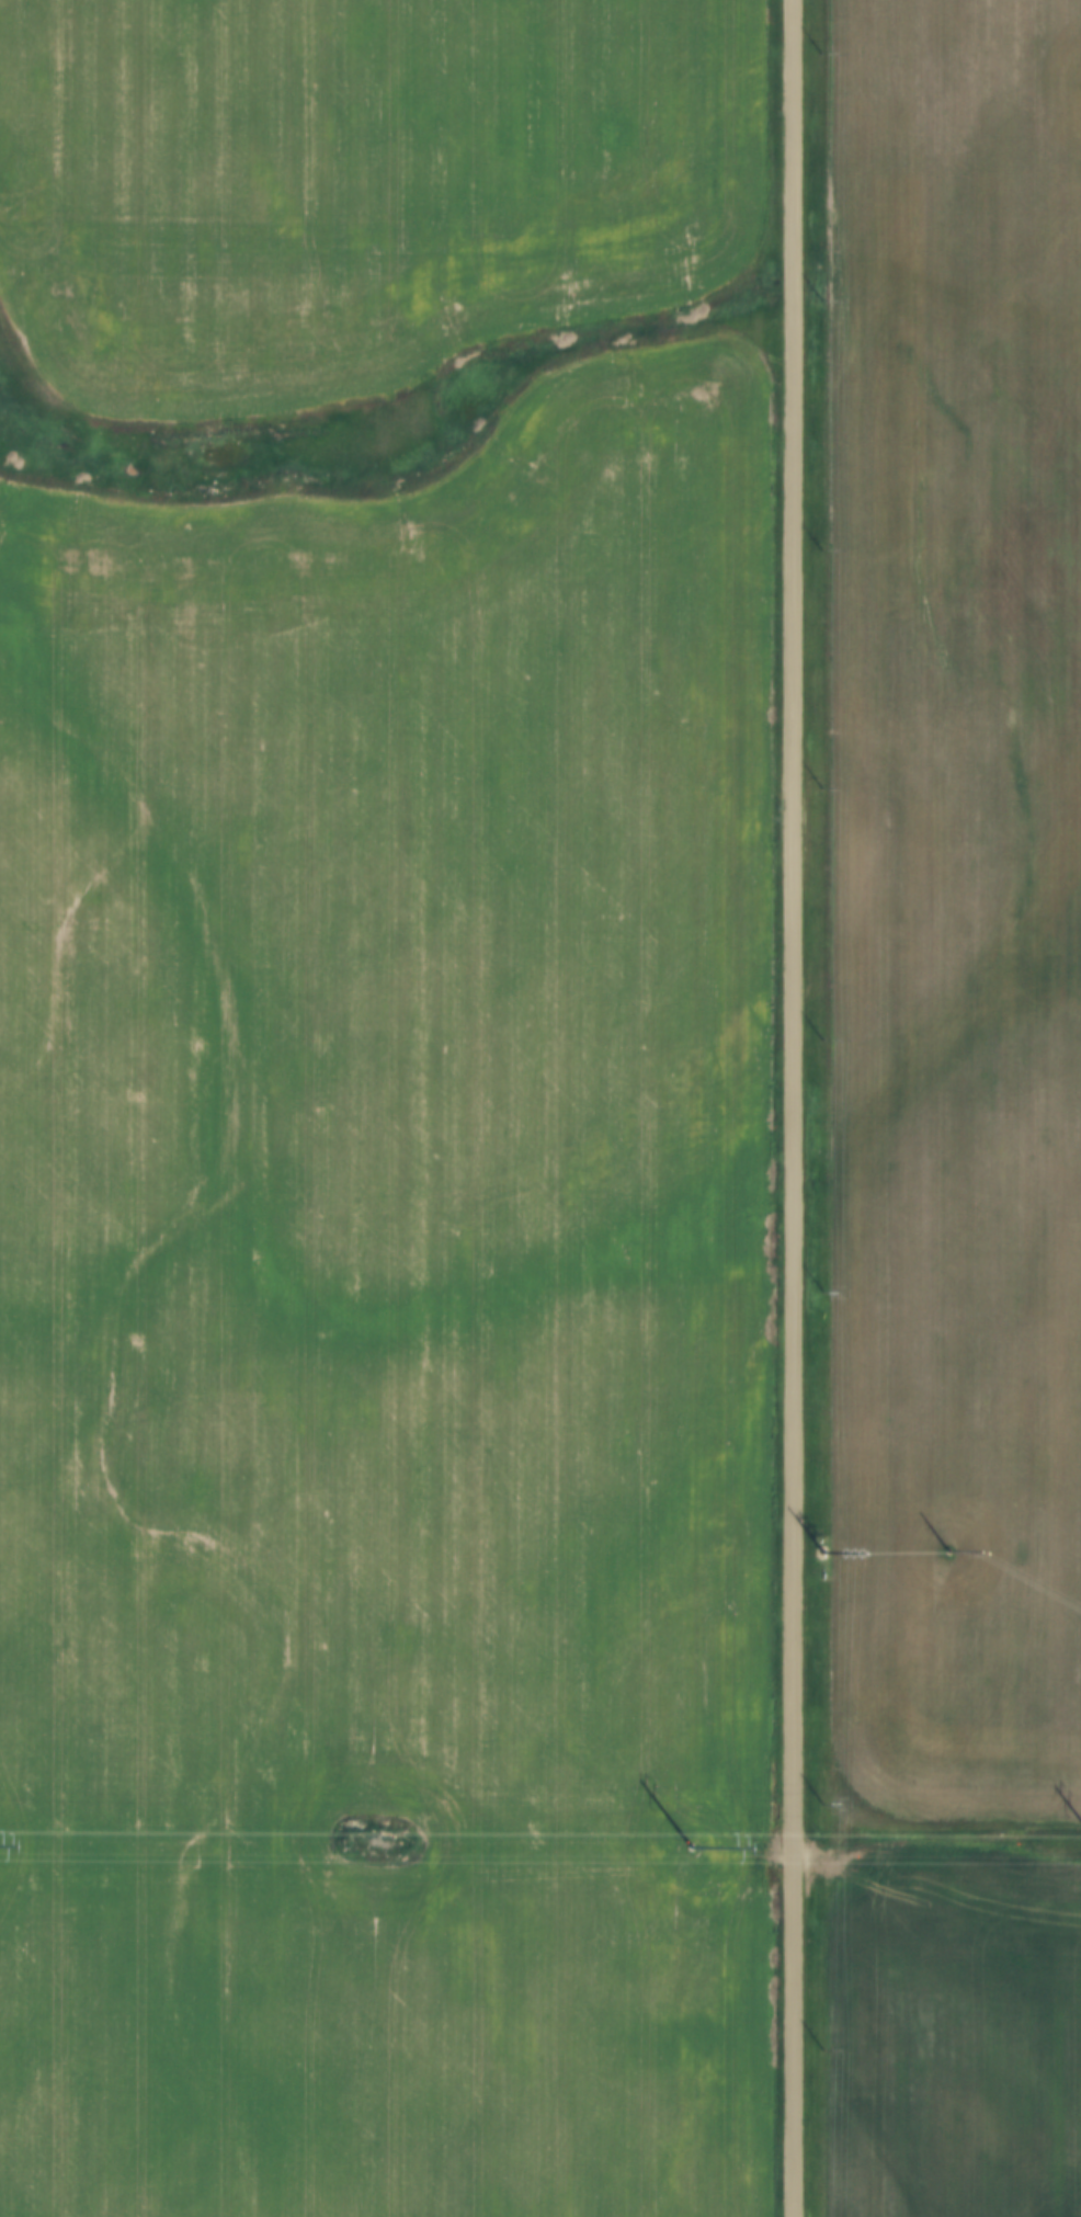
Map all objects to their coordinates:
road: (793, 1107)
power tower: (689, 1846)

